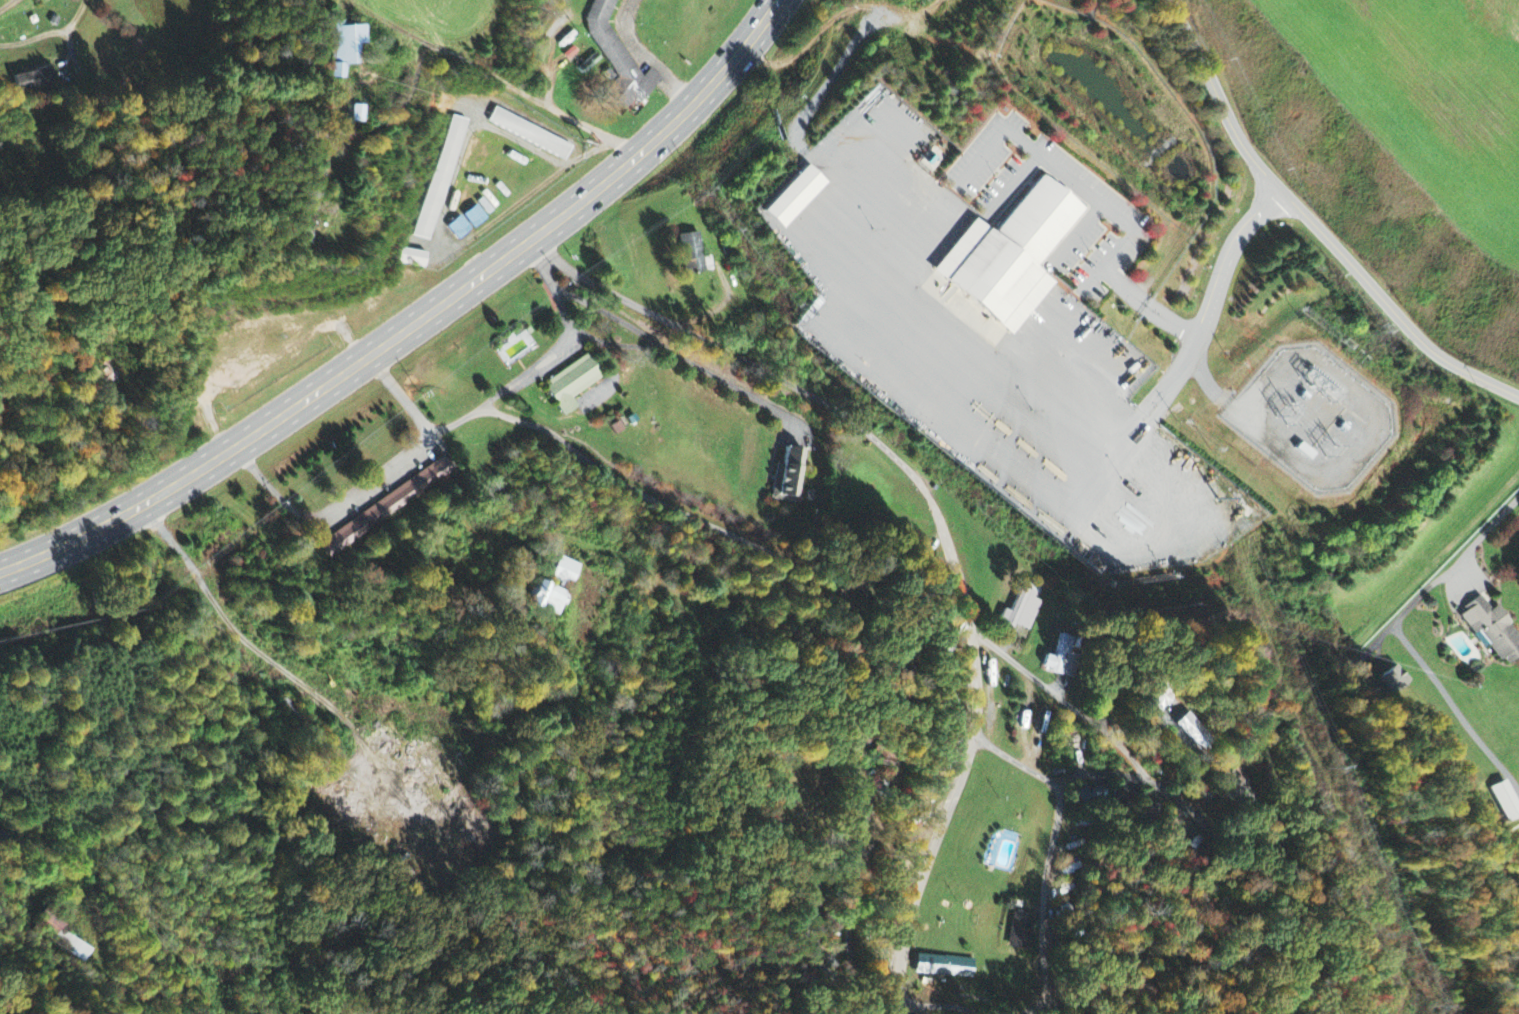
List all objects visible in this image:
road: (11, 8)
building: (346, 47)
building: (618, 60)
road: (493, 79)
building: (33, 82)
building: (356, 114)
building: (530, 134)
building: (441, 179)
building: (793, 198)
building: (475, 218)
road: (1314, 226)
building: (458, 229)
building: (694, 256)
building: (1011, 257)
building: (413, 258)
road: (417, 324)
building: (573, 384)
building: (788, 478)
building: (386, 508)
road: (938, 517)
road: (808, 568)
building: (567, 571)
road: (210, 591)
building: (548, 600)
building: (1022, 613)
building: (1494, 632)
building: (1062, 657)
road: (1066, 701)
building: (1159, 705)
building: (1194, 733)
road: (1119, 774)
park: (805, 800)
building: (1507, 801)
building: (1518, 844)
road: (1044, 904)
building: (49, 922)
building: (1021, 933)
building: (74, 948)
building: (945, 967)
road: (944, 1007)

